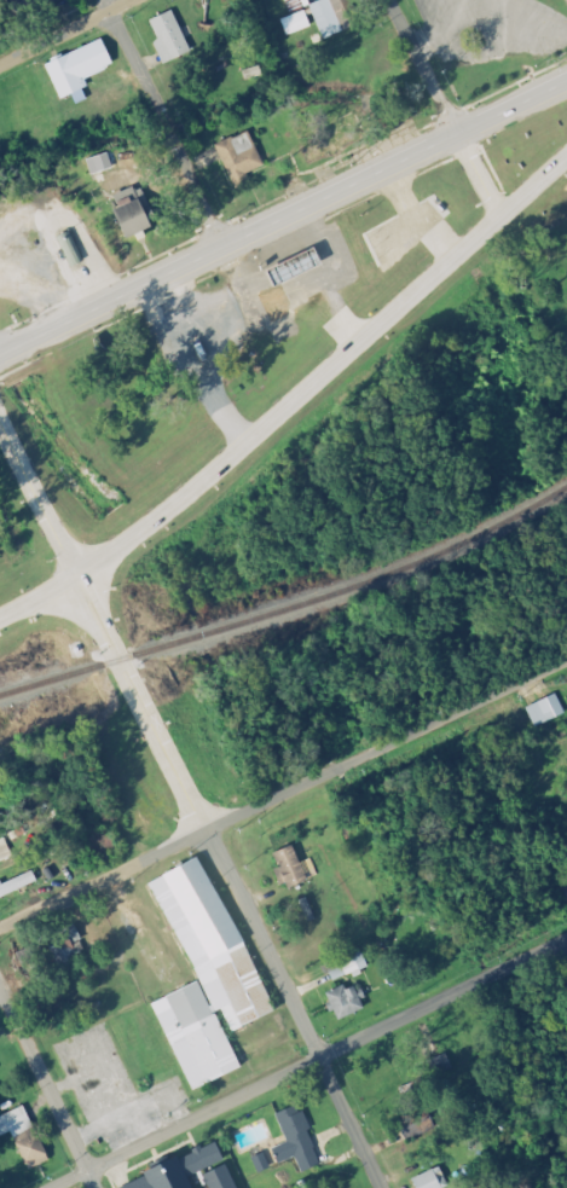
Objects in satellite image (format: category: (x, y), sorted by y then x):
road: (80, 39)
road: (447, 108)
road: (163, 123)
road: (284, 218)
road: (291, 398)
road: (39, 487)
railway: (291, 609)
road: (284, 805)
building: (4, 847)
road: (231, 880)
building: (17, 882)
building: (206, 974)
building: (345, 999)
road: (323, 1067)
road: (51, 1083)
building: (15, 1120)
building: (295, 1138)
building: (31, 1148)
building: (260, 1160)
building: (201, 1170)

